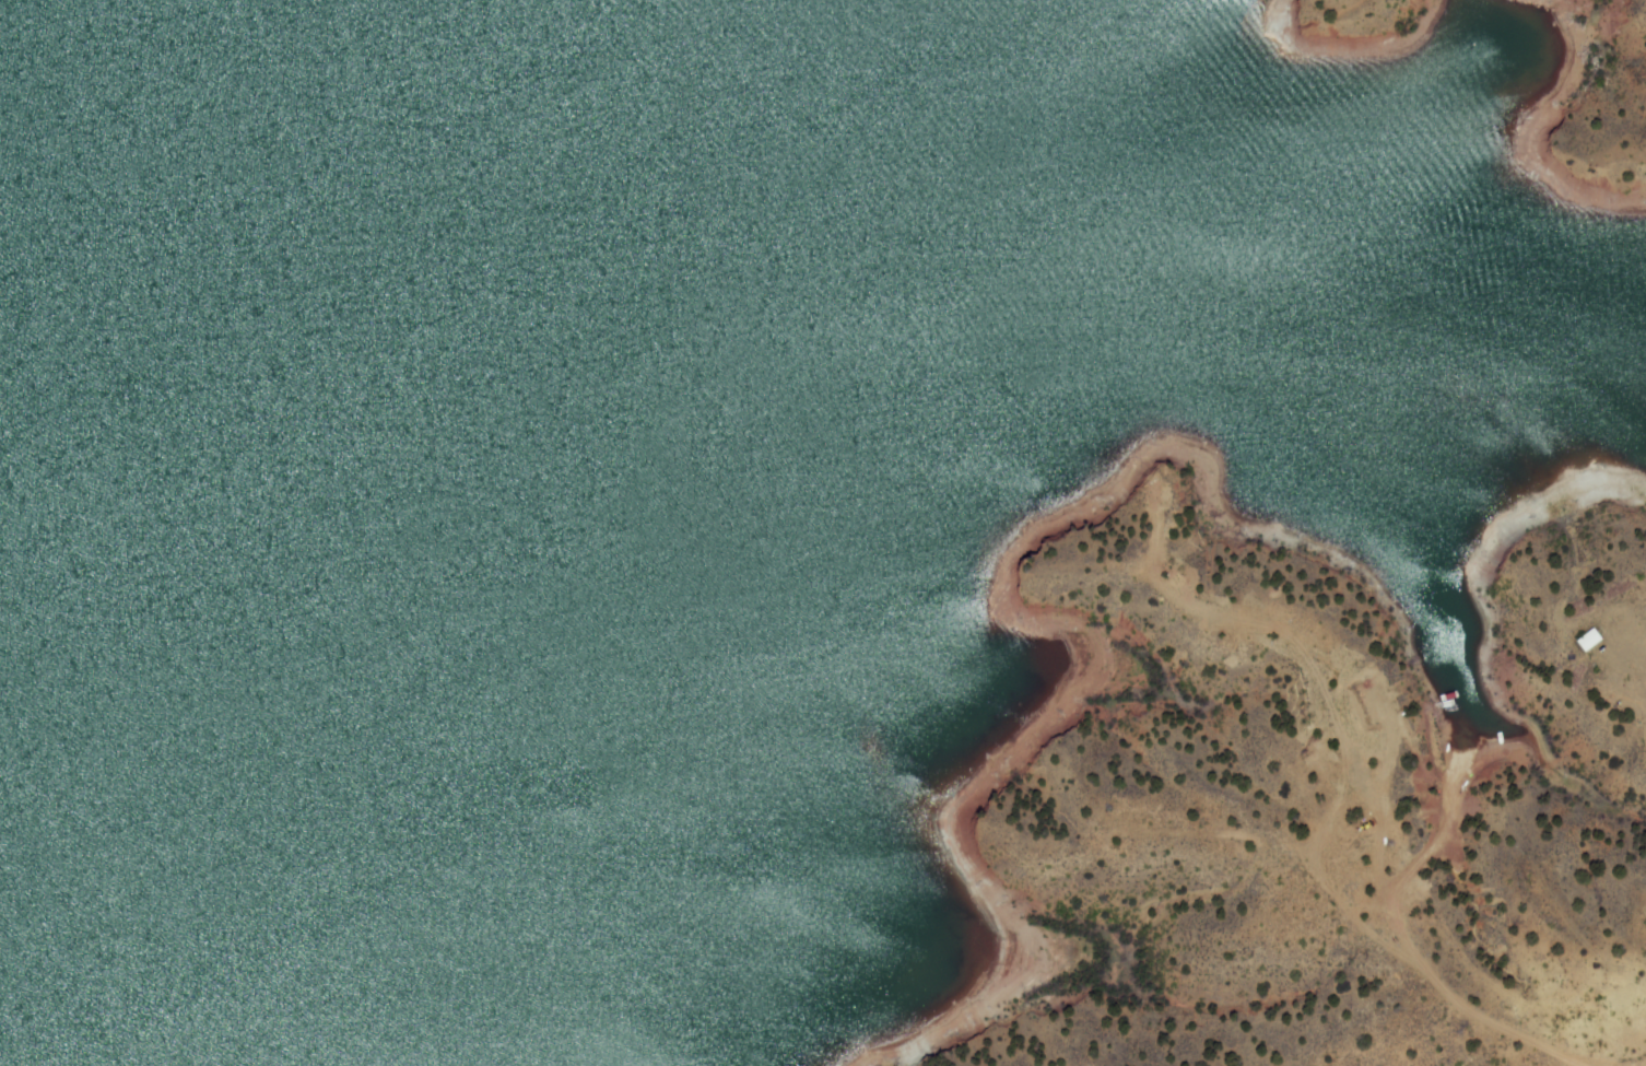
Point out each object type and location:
building: (1587, 641)
road: (1632, 681)

